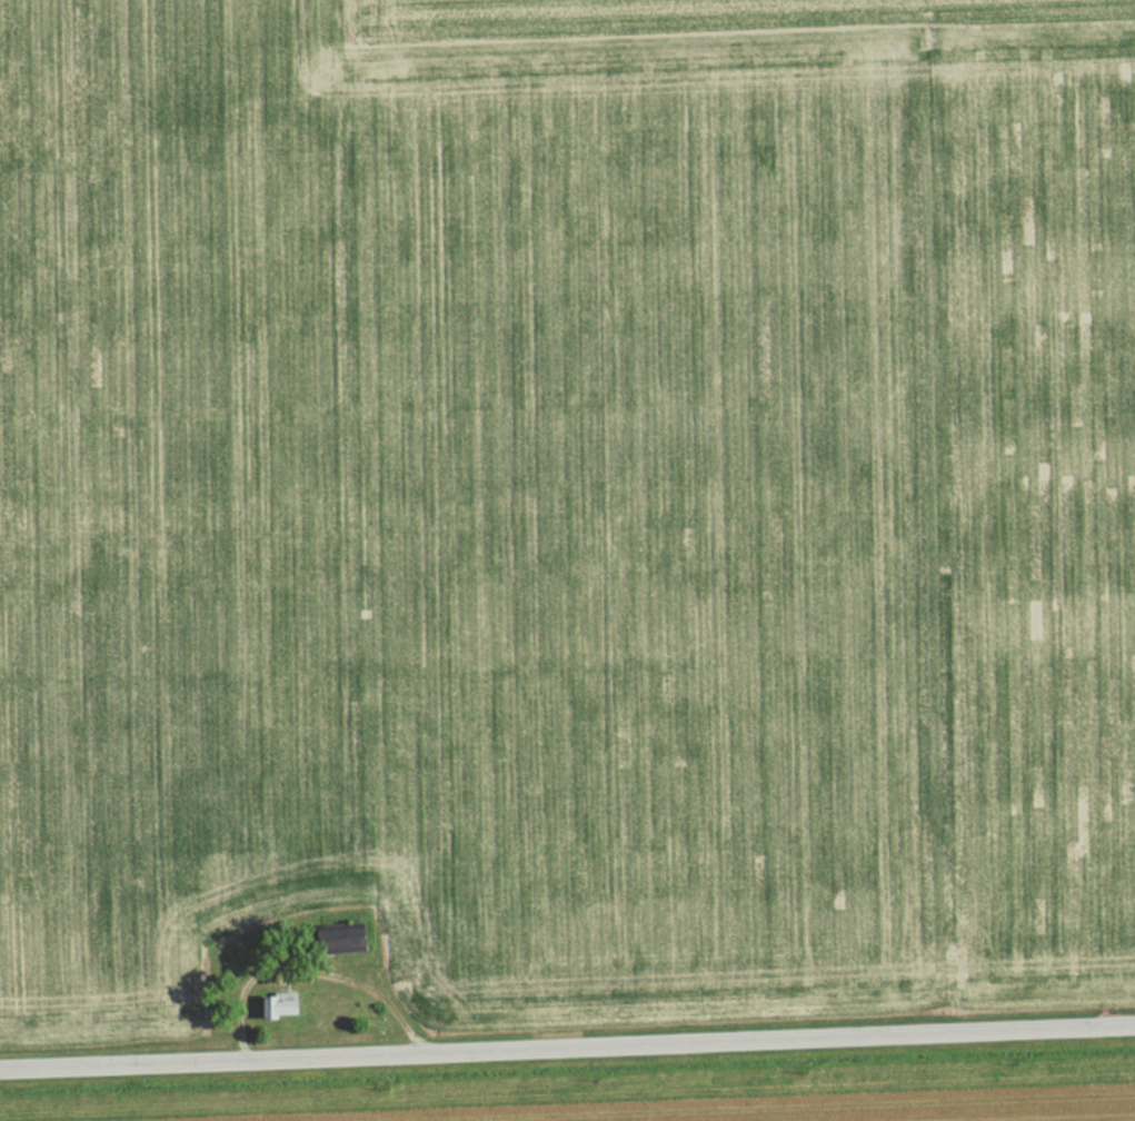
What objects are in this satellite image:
crop: (177, 497)
crop: (750, 506)
building: (277, 1004)
road: (567, 1052)
crop: (820, 1107)

